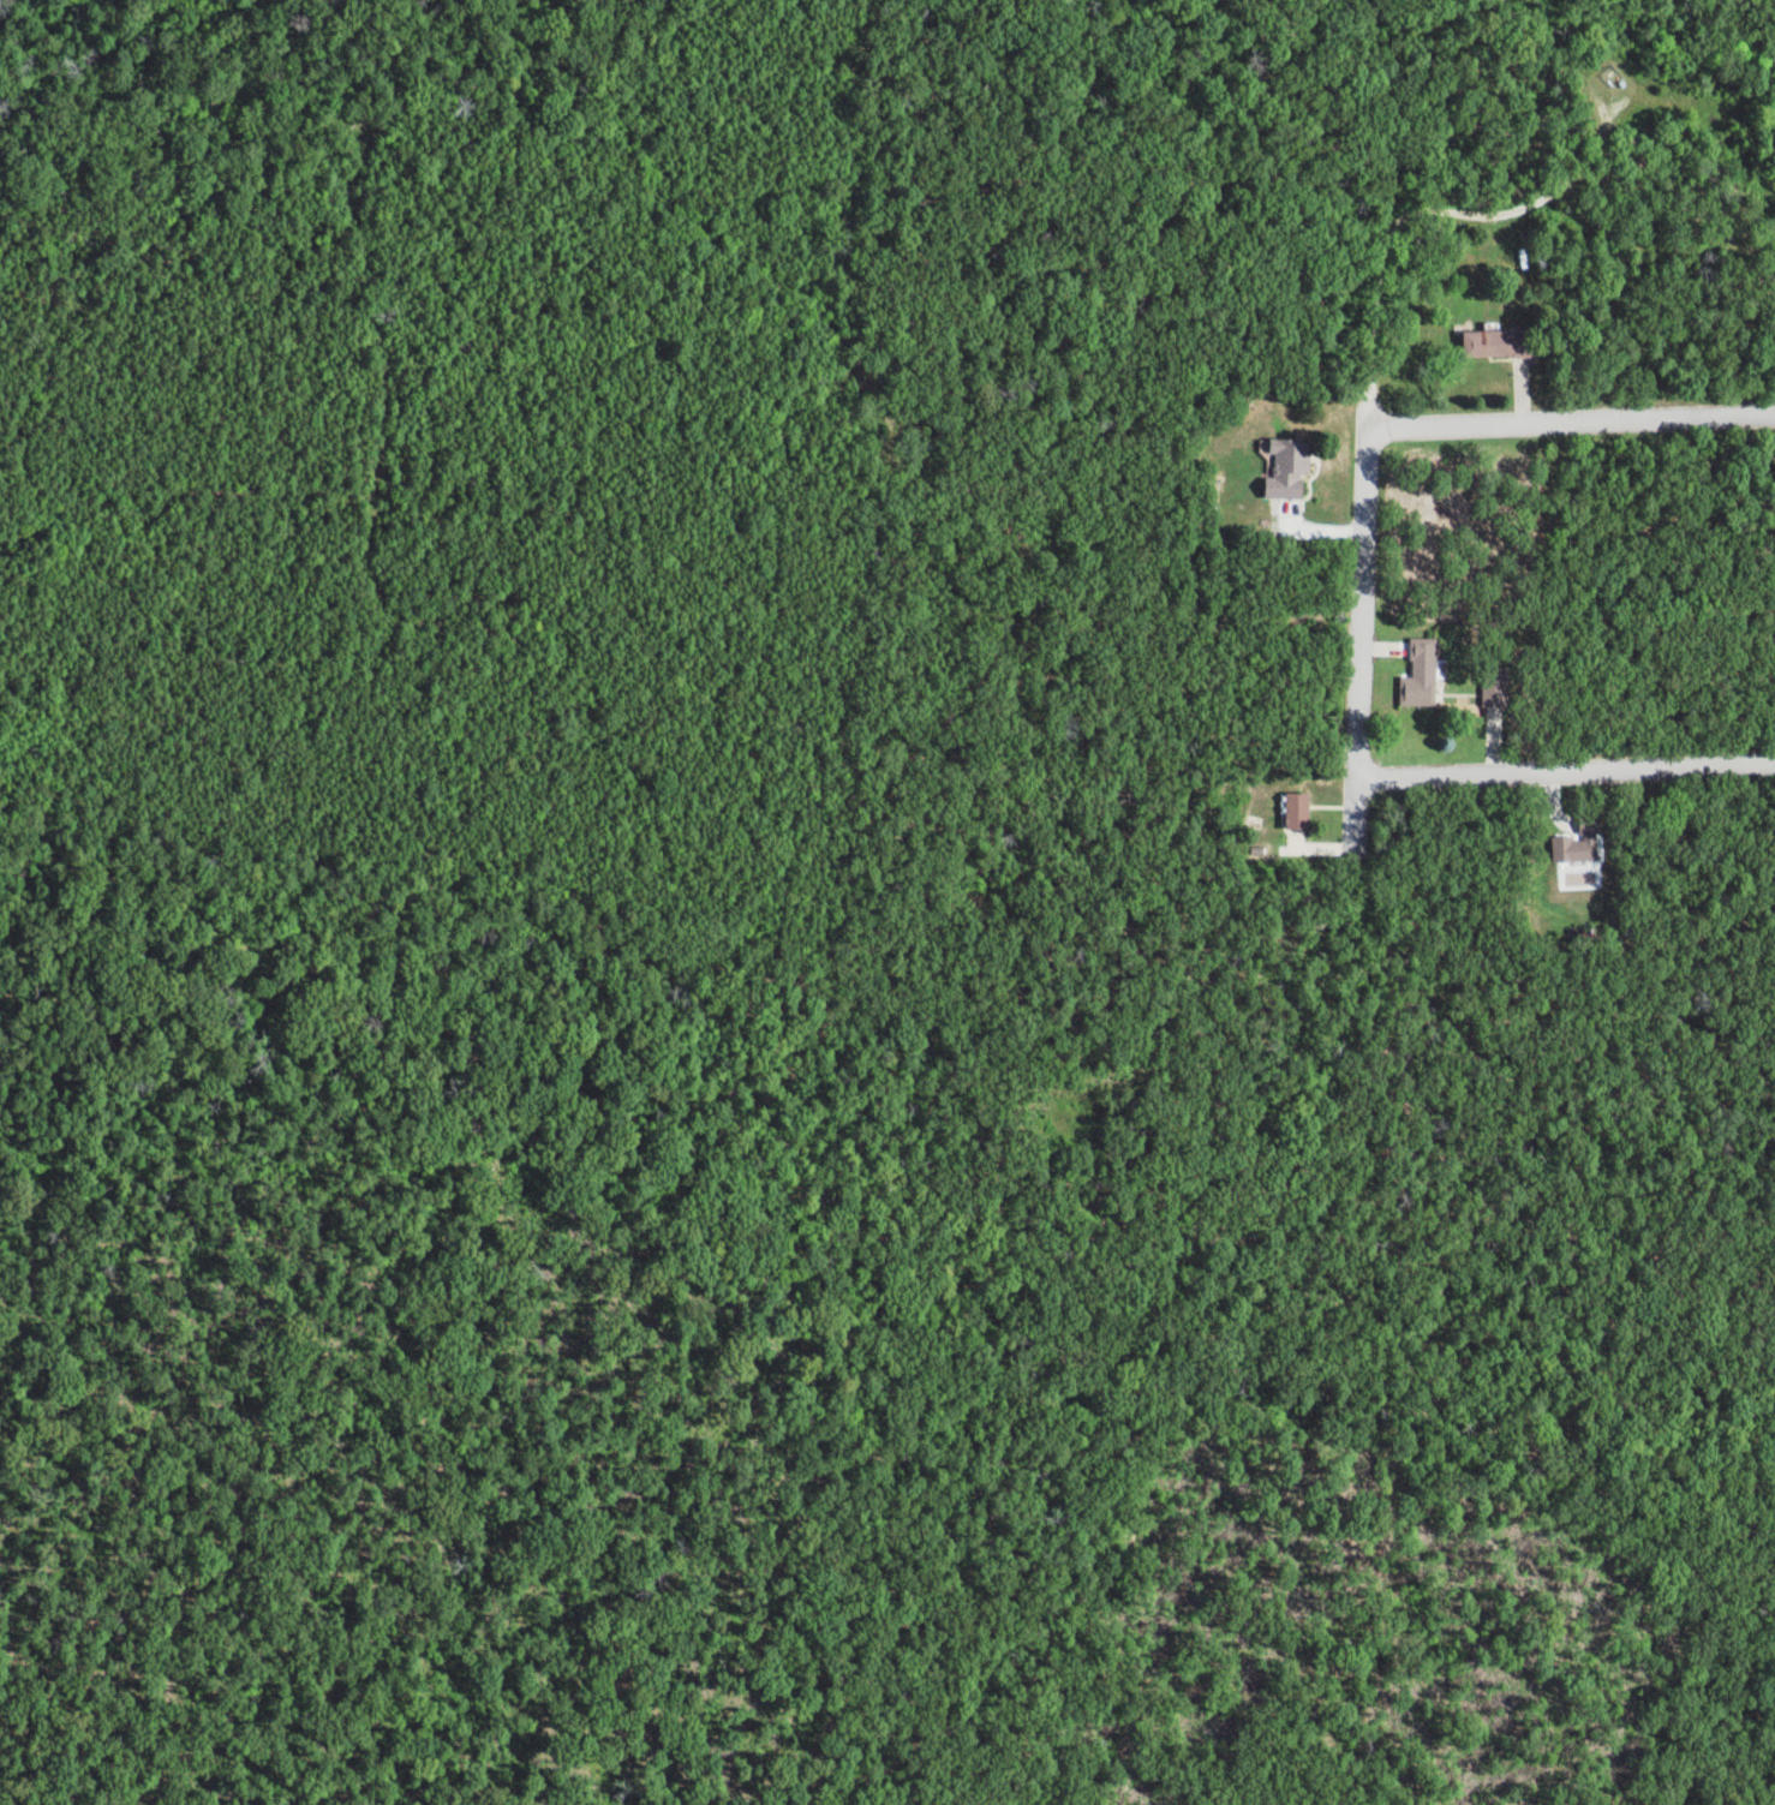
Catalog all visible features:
road: (1567, 423)
building: (1297, 467)
road: (1356, 659)
building: (1430, 671)
road: (1565, 778)
building: (1586, 851)

